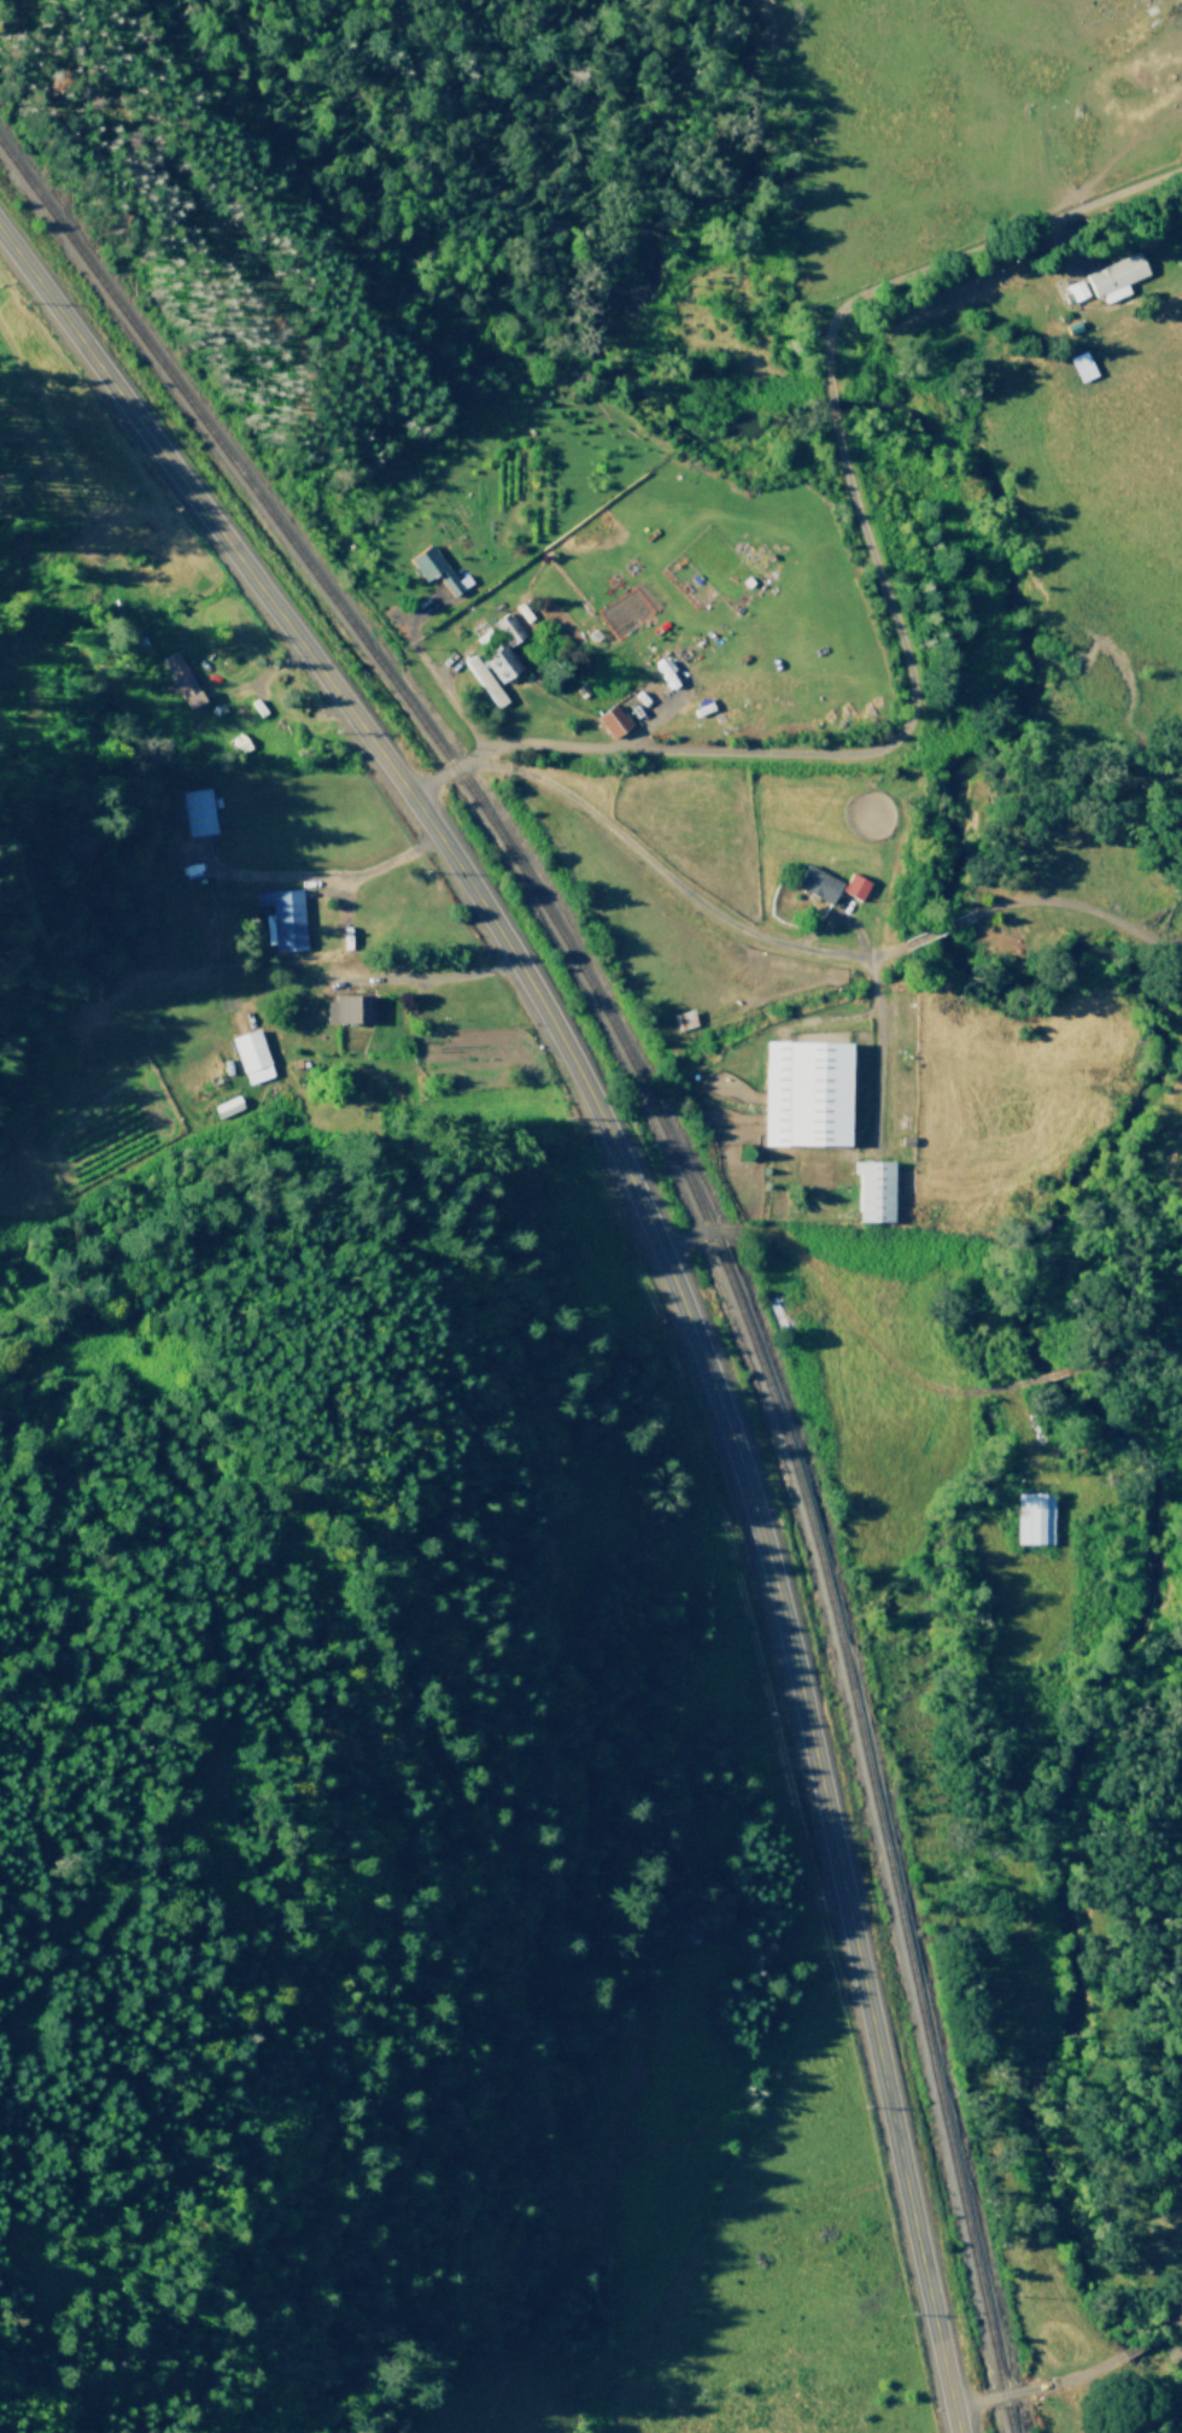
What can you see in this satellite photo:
road: (959, 255)
building: (1116, 277)
building: (1082, 367)
road: (832, 414)
building: (434, 569)
building: (508, 630)
building: (501, 665)
building: (182, 680)
building: (485, 682)
road: (457, 708)
building: (613, 721)
road: (813, 756)
building: (198, 813)
building: (829, 887)
road: (686, 891)
road: (1079, 907)
building: (283, 920)
road: (947, 926)
building: (351, 1011)
building: (684, 1020)
building: (250, 1051)
road: (877, 1052)
building: (807, 1095)
building: (874, 1191)
railway: (702, 1203)
road: (666, 1253)
road: (858, 1320)
road: (1134, 1359)
road: (1072, 1375)
building: (1035, 1517)
road: (1176, 2326)
road: (1158, 2338)
road: (1053, 2385)

